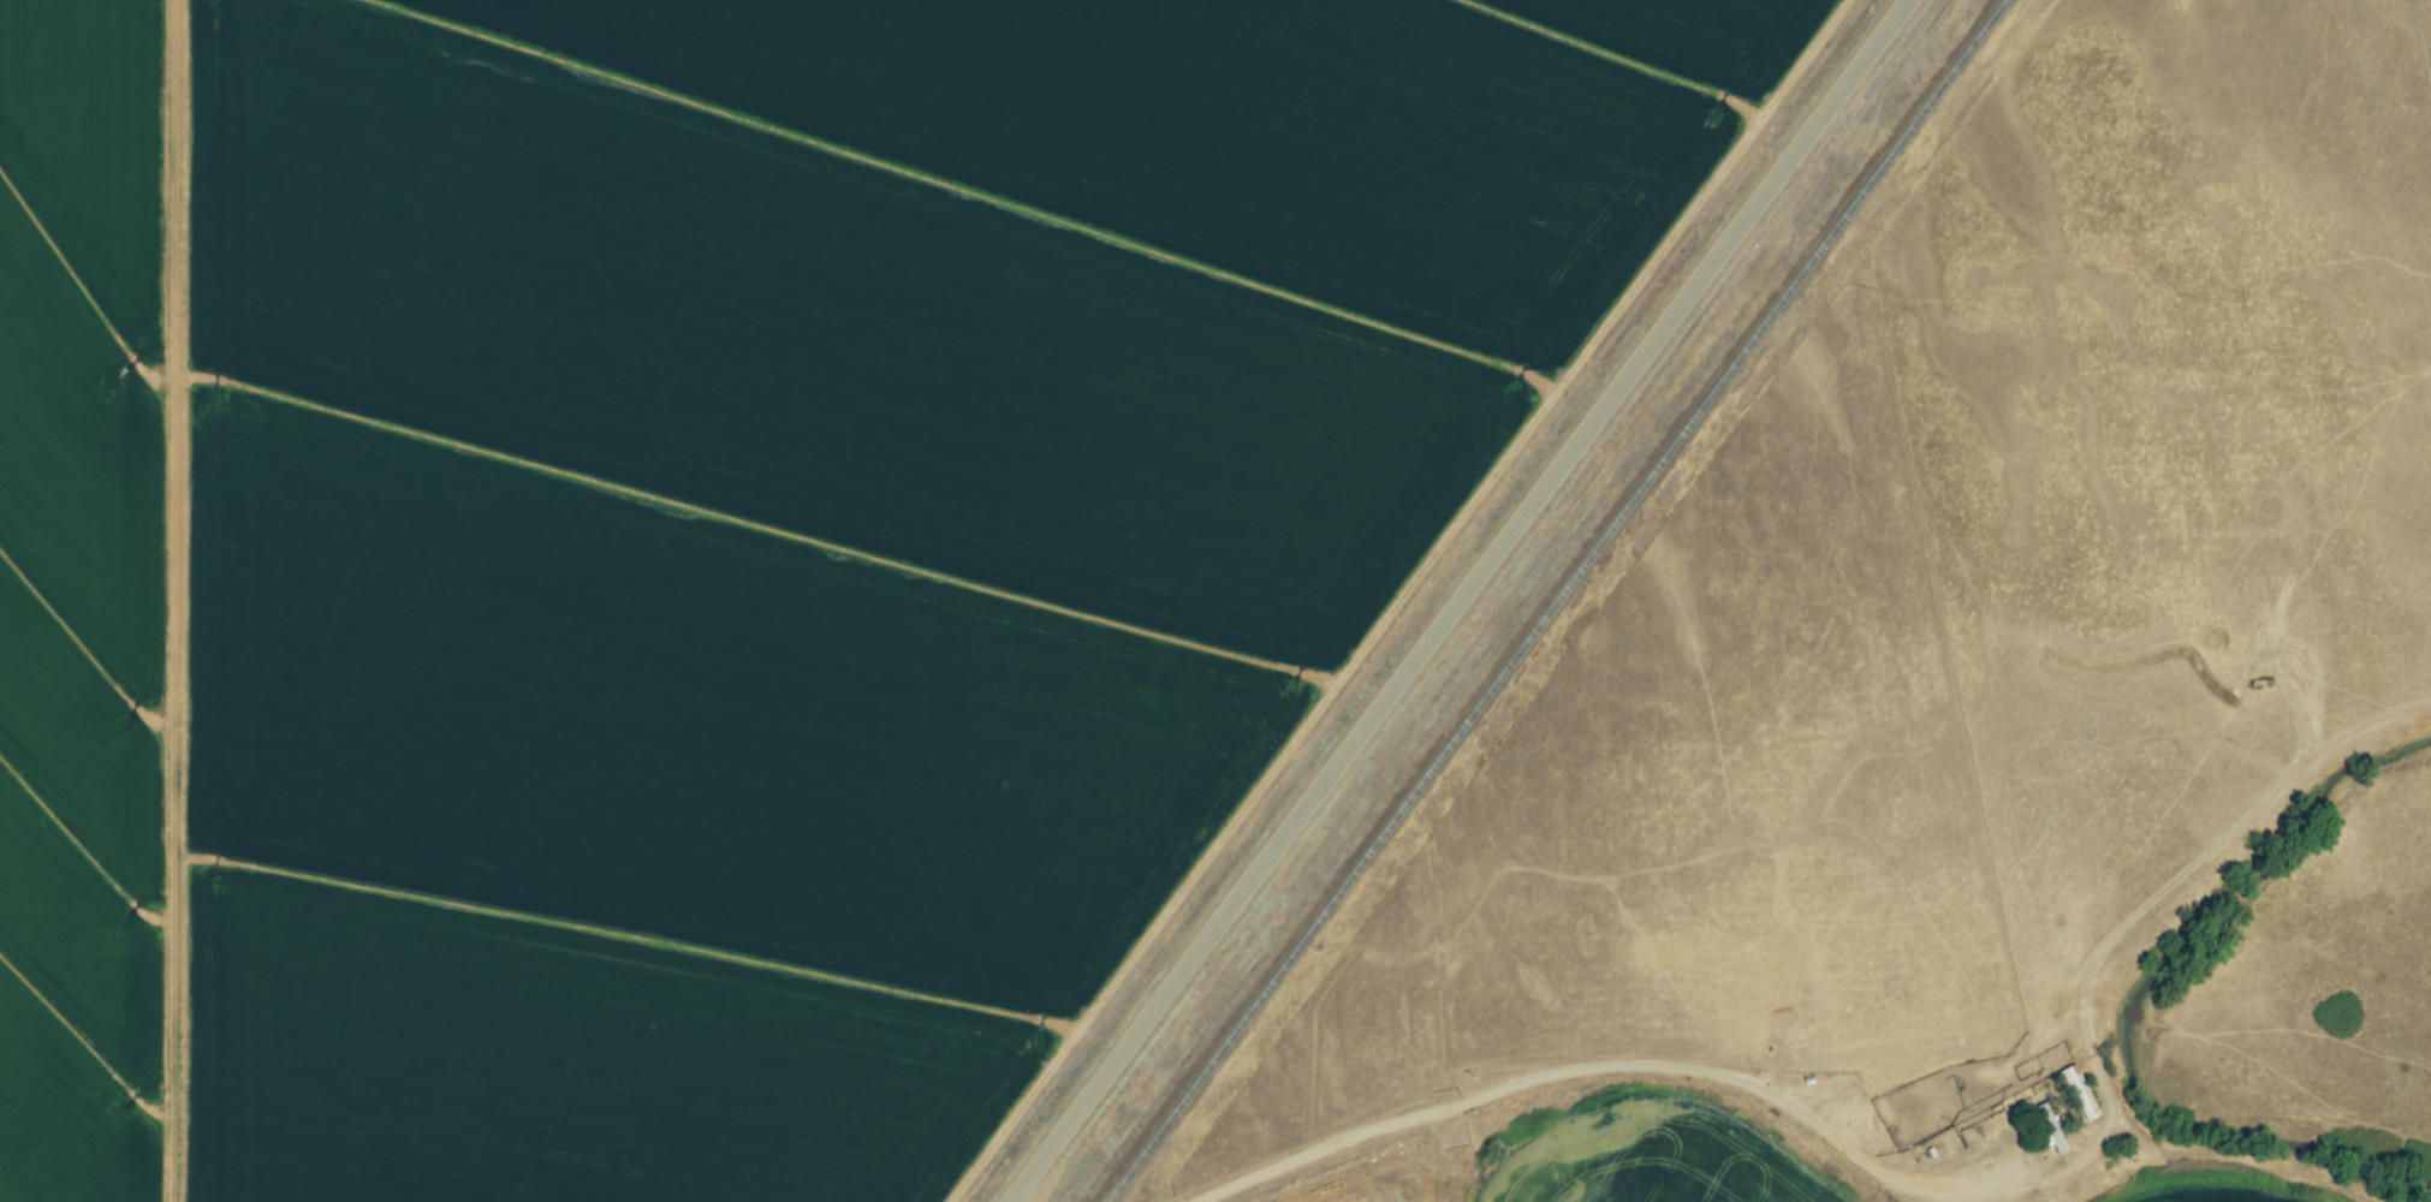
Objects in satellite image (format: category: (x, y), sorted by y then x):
railway: (1557, 600)
road: (176, 601)
road: (1463, 601)
building: (2078, 1094)
building: (2050, 1129)
road: (1890, 1174)

